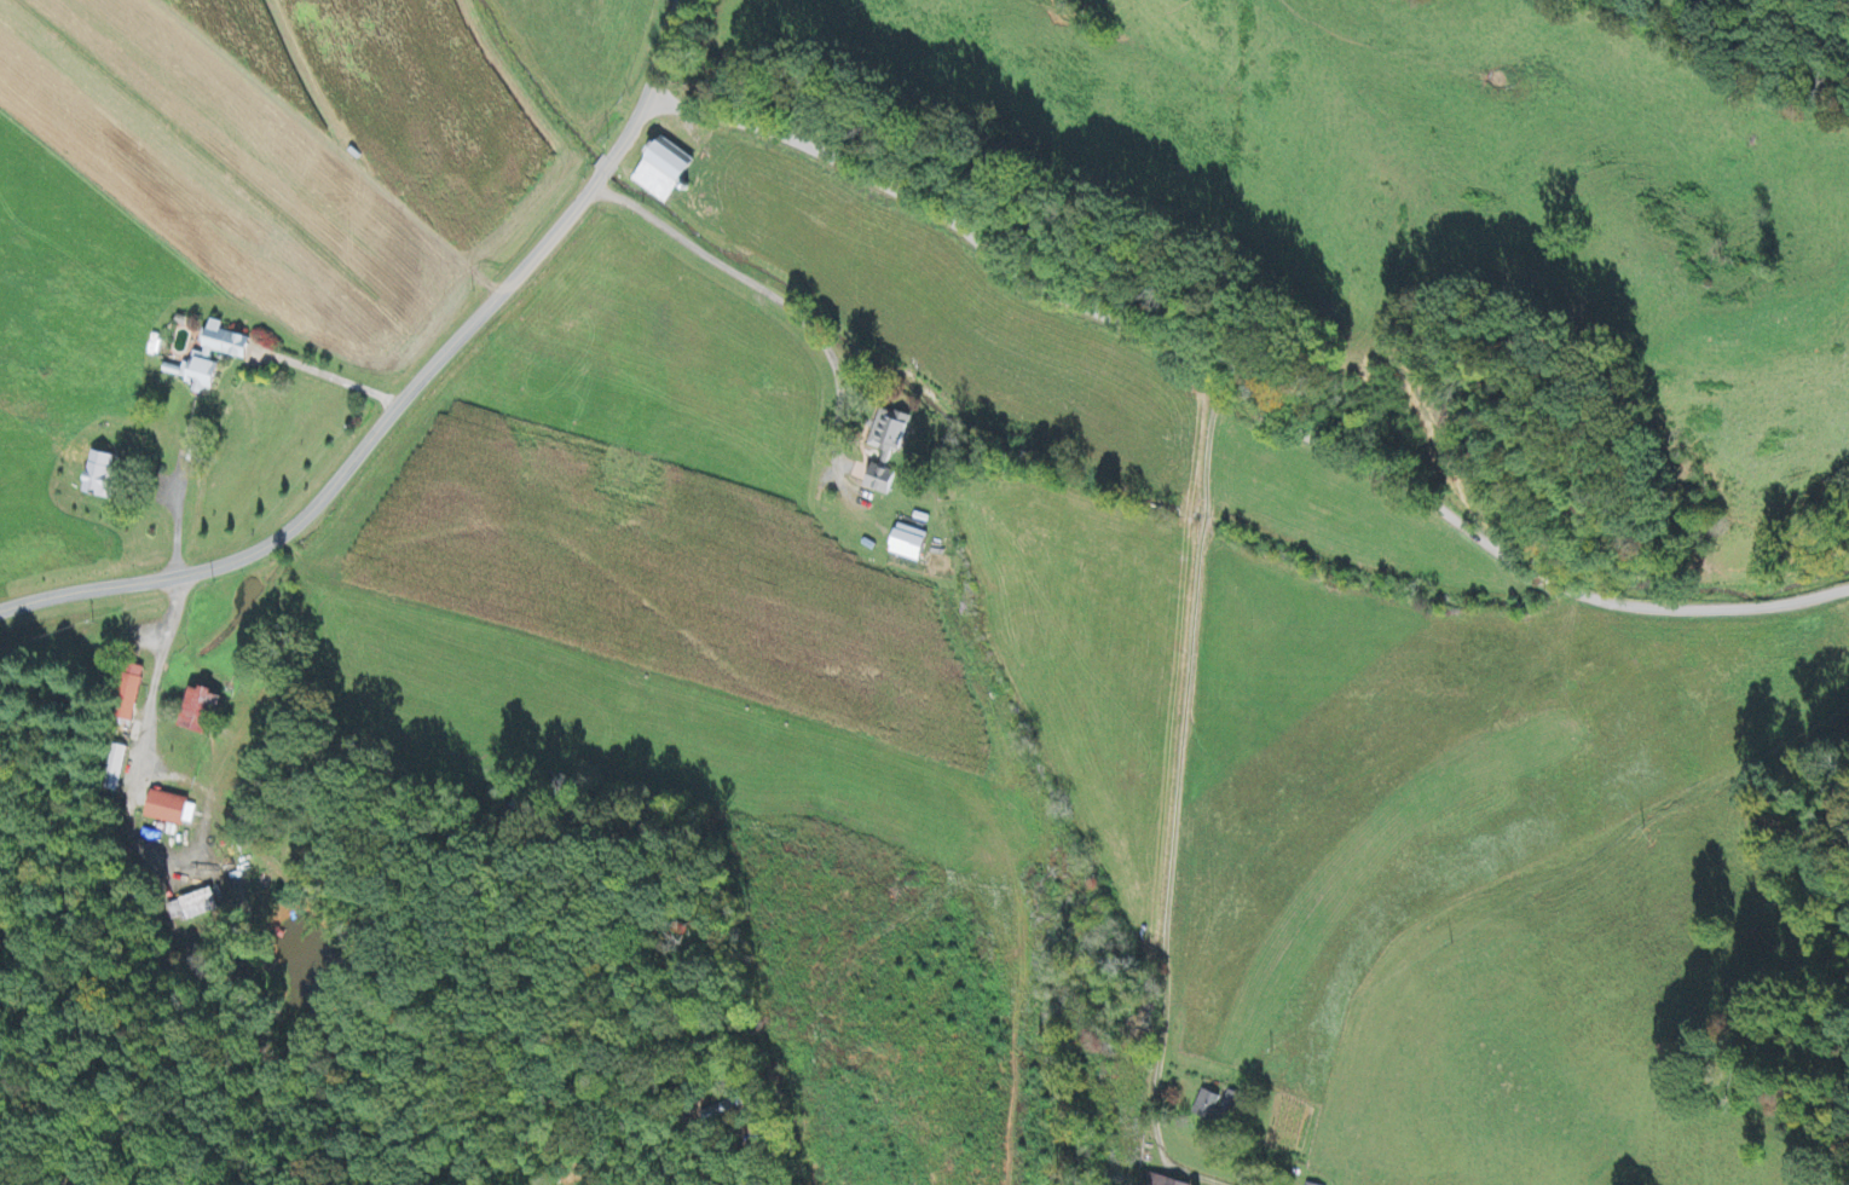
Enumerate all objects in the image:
road: (1752, 47)
road: (668, 48)
road: (632, 127)
road: (608, 164)
building: (666, 173)
road: (1110, 317)
building: (203, 358)
building: (889, 450)
road: (347, 467)
building: (100, 476)
building: (911, 545)
road: (1561, 586)
road: (1711, 606)
building: (203, 713)
building: (169, 810)
building: (201, 904)
building: (1232, 1104)
building: (1207, 1106)
building: (1157, 1180)

